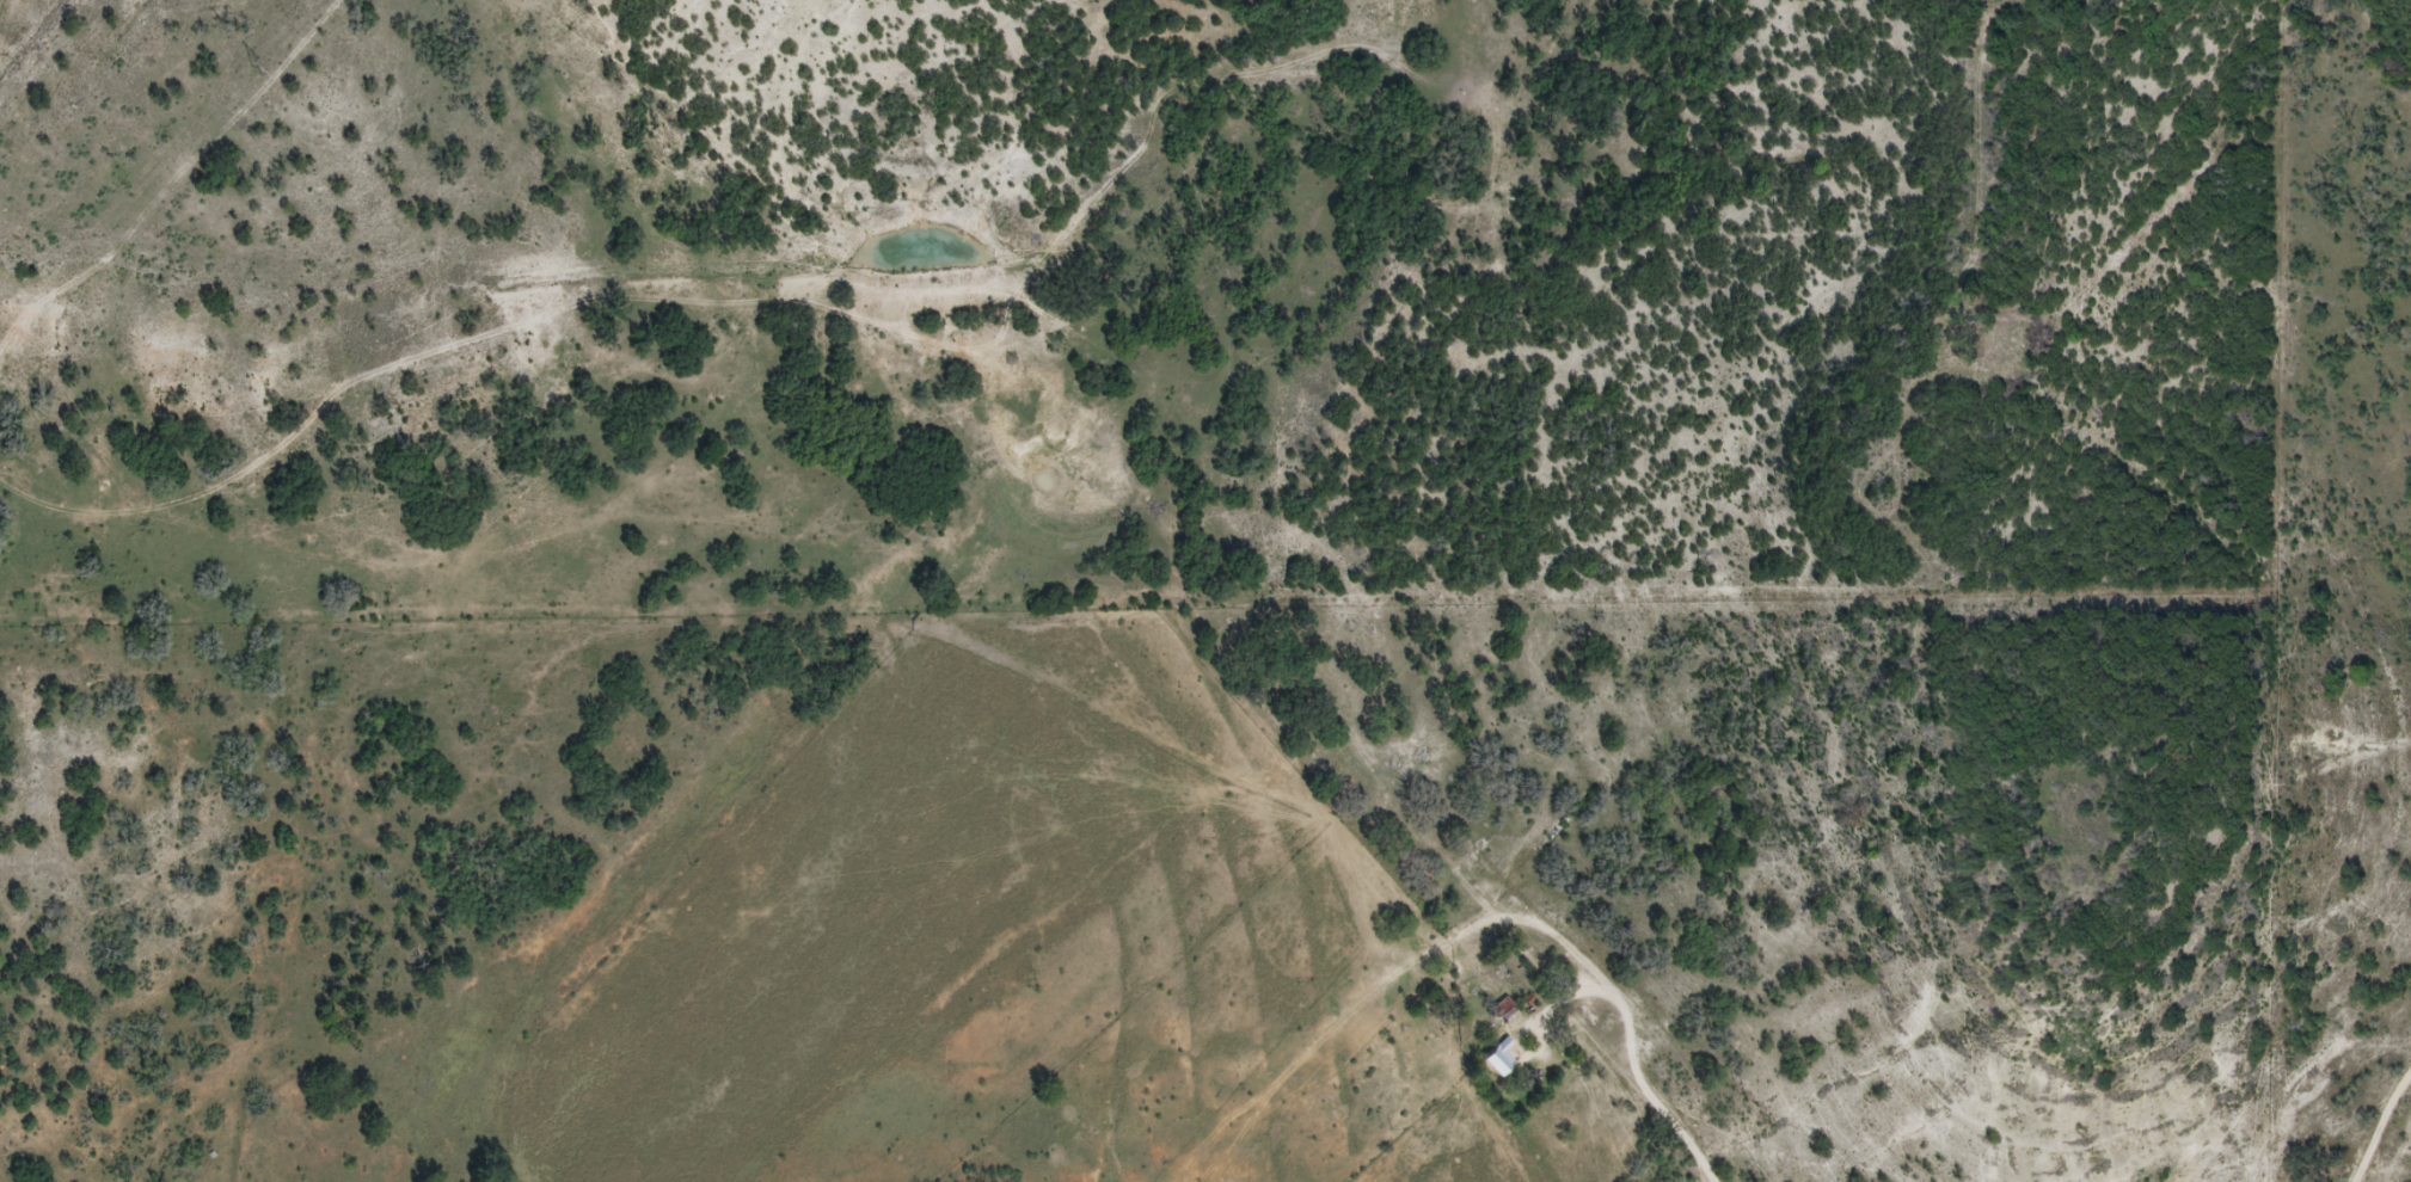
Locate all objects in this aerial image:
power tower: (254, 73)
building: (1503, 1011)
building: (1495, 1064)

